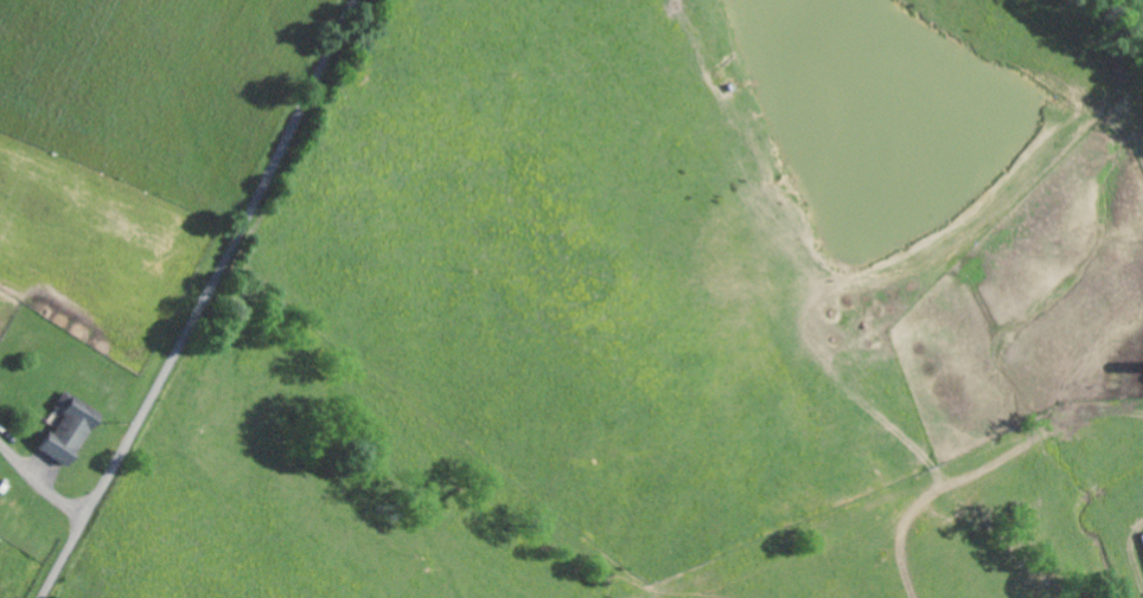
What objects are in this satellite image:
road: (205, 301)
road: (977, 397)
building: (76, 429)

